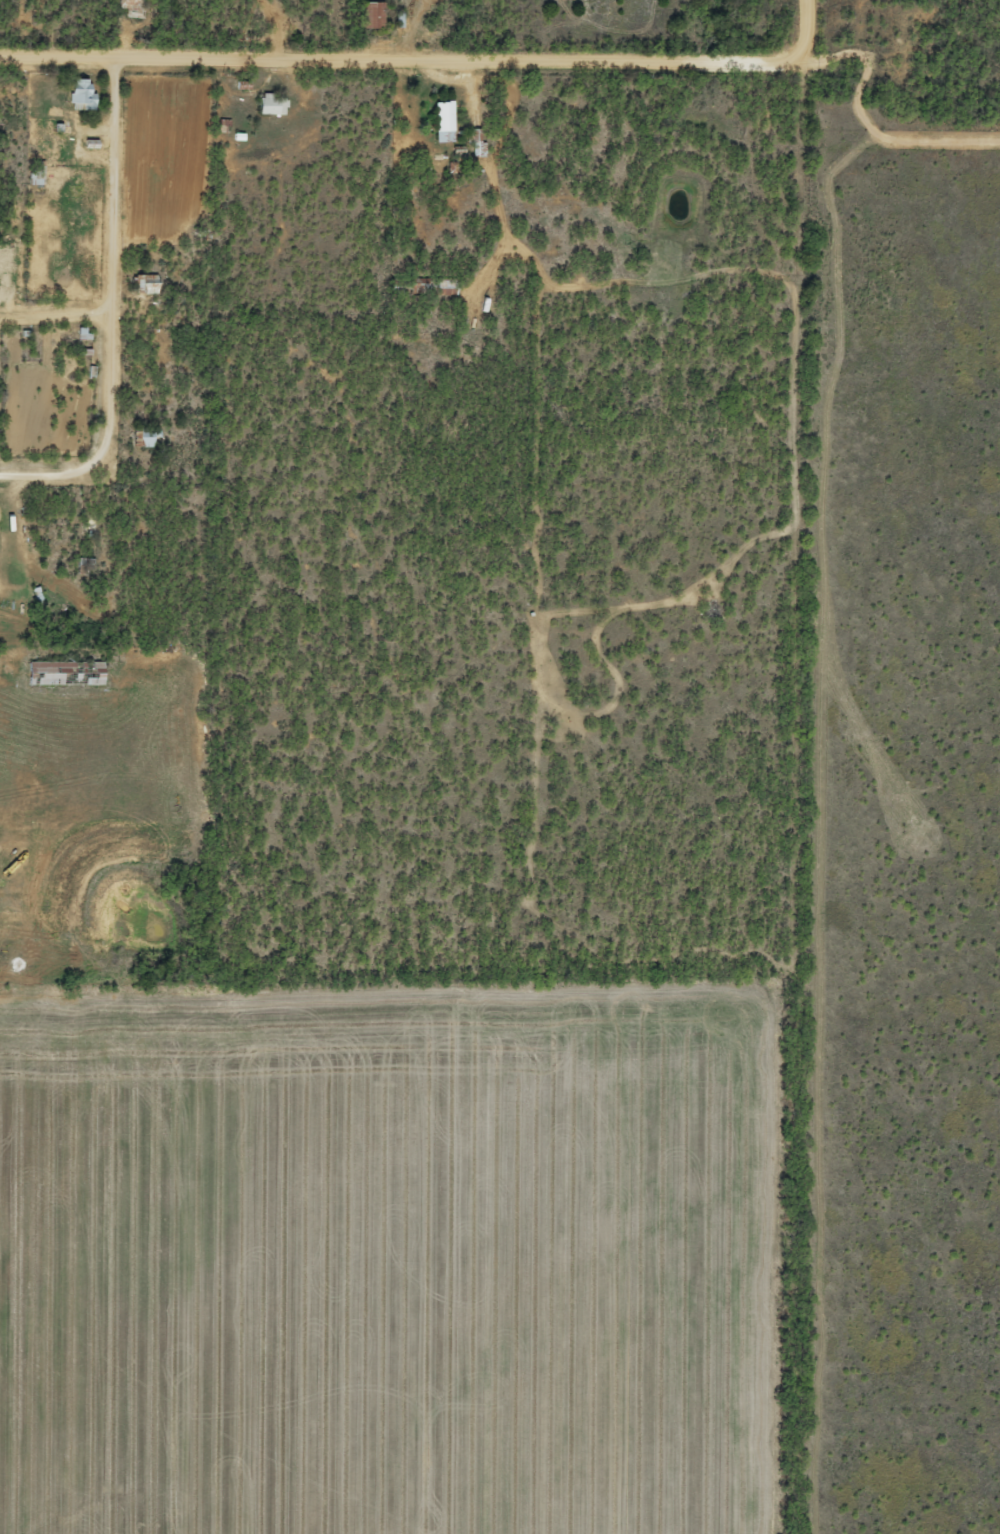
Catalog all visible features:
building: (126, 8)
building: (367, 14)
road: (434, 87)
building: (75, 94)
building: (266, 104)
building: (438, 121)
building: (30, 172)
building: (141, 283)
road: (73, 327)
road: (146, 335)
building: (139, 437)
road: (13, 499)
building: (60, 672)

